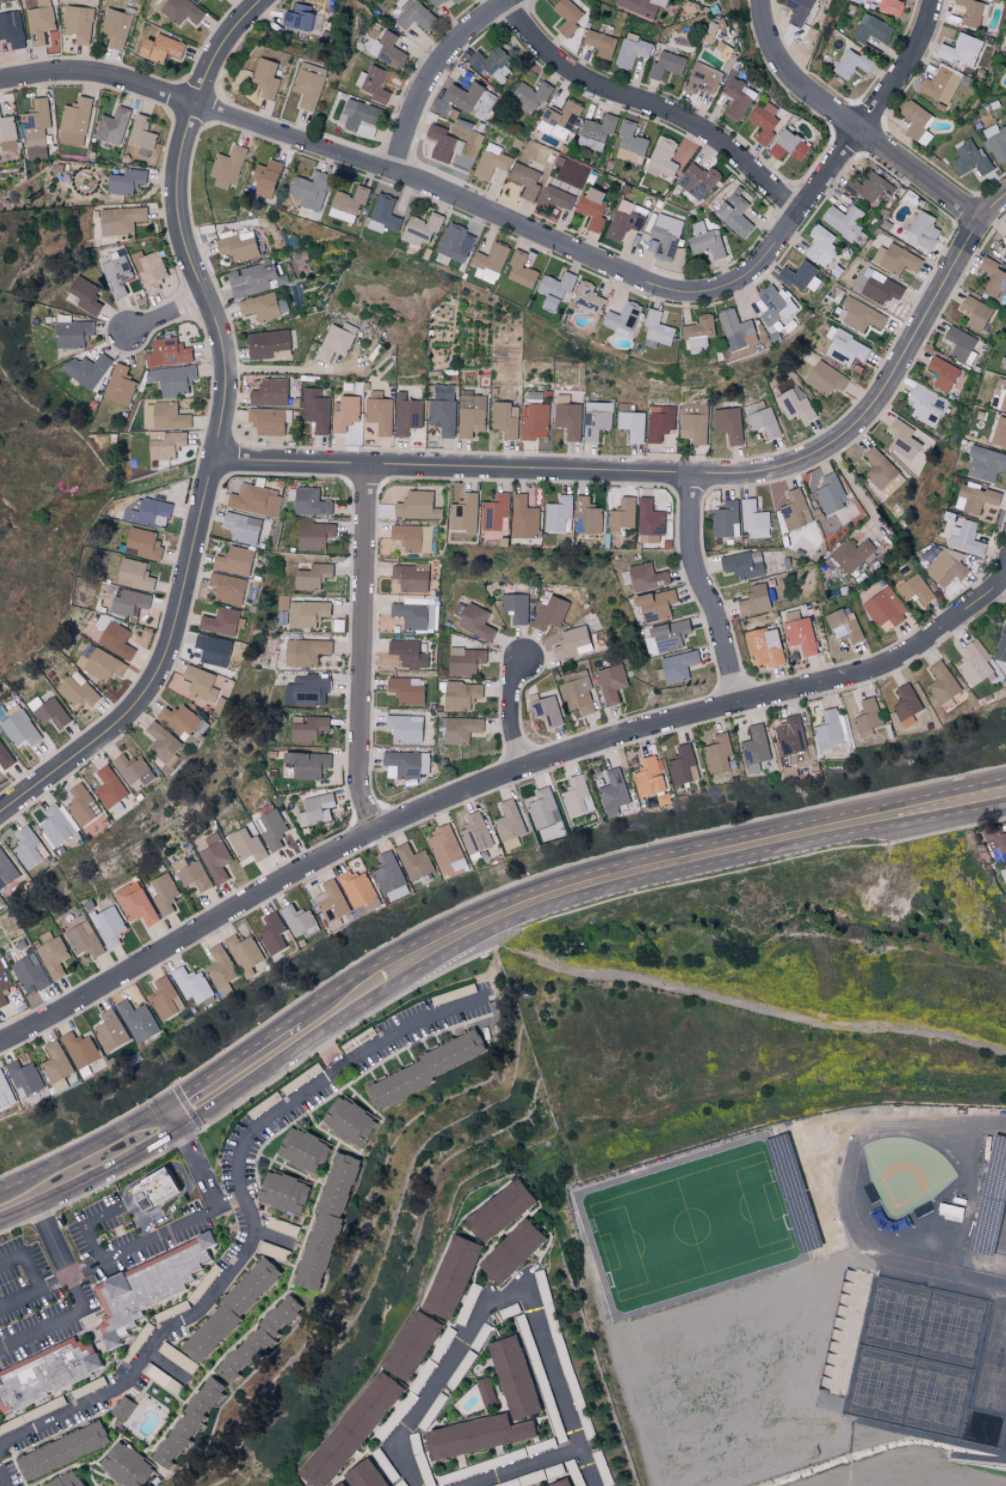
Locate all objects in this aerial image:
building: (455, 1)
building: (436, 2)
building: (641, 6)
building: (890, 7)
building: (181, 11)
building: (797, 11)
building: (972, 12)
building: (413, 15)
building: (567, 17)
building: (301, 19)
building: (40, 22)
building: (78, 23)
building: (114, 26)
building: (11, 29)
building: (871, 29)
building: (710, 31)
building: (601, 44)
building: (159, 49)
building: (387, 49)
building: (631, 50)
building: (961, 50)
building: (490, 64)
building: (850, 64)
building: (665, 65)
road: (901, 70)
road: (433, 73)
building: (265, 78)
building: (702, 79)
building: (373, 83)
building: (309, 85)
building: (940, 86)
building: (530, 95)
building: (462, 97)
building: (737, 99)
road: (648, 107)
building: (359, 114)
building: (558, 120)
building: (36, 122)
building: (74, 122)
building: (763, 122)
building: (917, 123)
building: (113, 126)
road: (849, 127)
building: (7, 128)
building: (596, 132)
building: (141, 135)
building: (996, 142)
building: (442, 143)
building: (630, 143)
building: (8, 145)
building: (787, 146)
building: (664, 157)
building: (971, 159)
building: (491, 161)
building: (227, 167)
building: (266, 178)
building: (125, 180)
building: (525, 181)
building: (697, 181)
building: (869, 187)
building: (311, 189)
building: (555, 198)
building: (348, 203)
road: (464, 204)
building: (591, 209)
building: (383, 214)
building: (733, 215)
building: (120, 220)
building: (623, 220)
building: (843, 220)
building: (1005, 224)
building: (420, 228)
building: (922, 231)
building: (663, 237)
building: (705, 241)
building: (454, 243)
building: (820, 245)
building: (1005, 246)
building: (237, 247)
building: (895, 258)
building: (489, 262)
building: (149, 269)
building: (519, 270)
building: (116, 274)
building: (800, 276)
building: (992, 277)
building: (251, 279)
building: (556, 284)
building: (879, 287)
building: (85, 294)
building: (587, 298)
building: (550, 302)
building: (261, 306)
building: (773, 306)
building: (974, 312)
road: (164, 314)
building: (859, 315)
building: (621, 318)
building: (657, 328)
building: (736, 329)
building: (699, 332)
building: (72, 333)
building: (335, 341)
building: (266, 343)
building: (961, 344)
building: (845, 347)
building: (167, 352)
building: (86, 369)
road: (278, 369)
building: (942, 372)
building: (1005, 372)
building: (825, 377)
building: (172, 380)
building: (269, 392)
building: (999, 397)
building: (796, 404)
building: (924, 404)
building: (315, 409)
building: (443, 409)
building: (379, 412)
building: (345, 413)
building: (406, 414)
building: (148, 415)
building: (471, 415)
building: (169, 416)
building: (568, 417)
building: (505, 419)
building: (596, 419)
building: (761, 419)
building: (267, 421)
building: (535, 421)
building: (660, 422)
building: (728, 423)
building: (632, 424)
building: (692, 425)
road: (226, 429)
building: (999, 433)
building: (902, 439)
building: (165, 446)
building: (985, 463)
building: (882, 472)
road: (679, 477)
road: (853, 484)
building: (830, 493)
building: (974, 497)
building: (255, 500)
building: (414, 504)
building: (795, 509)
building: (495, 512)
building: (148, 513)
building: (464, 513)
building: (557, 513)
building: (621, 515)
building: (754, 515)
building: (587, 516)
building: (524, 519)
building: (726, 519)
building: (649, 521)
building: (241, 527)
building: (314, 534)
building: (412, 537)
building: (965, 538)
building: (142, 543)
building: (851, 554)
building: (233, 560)
building: (743, 564)
building: (945, 569)
building: (133, 575)
building: (311, 575)
building: (410, 576)
building: (646, 577)
road: (1001, 586)
building: (227, 588)
building: (916, 589)
road: (708, 594)
building: (754, 599)
building: (128, 603)
building: (655, 604)
building: (515, 607)
building: (885, 608)
building: (306, 613)
building: (550, 613)
building: (414, 615)
building: (102, 621)
building: (221, 621)
building: (474, 621)
building: (843, 626)
building: (669, 635)
building: (800, 635)
building: (115, 640)
building: (572, 642)
building: (1001, 644)
building: (764, 647)
building: (212, 649)
road: (363, 650)
building: (305, 651)
building: (407, 653)
building: (464, 660)
building: (100, 664)
building: (972, 665)
building: (678, 666)
building: (200, 682)
building: (941, 682)
building: (611, 683)
building: (77, 690)
building: (307, 690)
building: (405, 690)
building: (576, 692)
building: (460, 695)
building: (905, 702)
building: (547, 710)
building: (51, 712)
road: (514, 716)
building: (868, 717)
building: (179, 720)
building: (404, 727)
building: (20, 728)
building: (307, 728)
building: (459, 729)
building: (829, 729)
building: (161, 741)
building: (794, 741)
building: (754, 749)
building: (717, 753)
building: (4, 757)
building: (306, 764)
building: (405, 764)
building: (683, 765)
building: (132, 769)
building: (649, 777)
road: (497, 782)
building: (109, 787)
building: (613, 793)
building: (577, 797)
building: (82, 805)
building: (542, 808)
building: (314, 810)
building: (56, 825)
building: (509, 825)
building: (272, 828)
building: (475, 833)
building: (996, 842)
building: (246, 845)
building: (29, 847)
building: (445, 849)
building: (215, 858)
road: (636, 858)
building: (413, 861)
building: (1004, 867)
building: (6, 870)
building: (388, 872)
building: (191, 874)
building: (356, 888)
building: (396, 892)
building: (164, 893)
building: (331, 900)
road: (568, 900)
building: (135, 903)
building: (297, 919)
building: (108, 926)
building: (272, 933)
building: (83, 939)
building: (243, 953)
building: (53, 957)
building: (219, 967)
building: (29, 973)
building: (3, 984)
building: (191, 984)
building: (165, 998)
road: (742, 1001)
building: (137, 1021)
building: (110, 1030)
building: (79, 1049)
building: (55, 1062)
road: (234, 1064)
building: (424, 1068)
building: (24, 1078)
building: (59, 1085)
building: (5, 1093)
traffic signals: (171, 1108)
road: (177, 1117)
building: (346, 1121)
traffic signals: (183, 1127)
building: (300, 1149)
road: (87, 1154)
building: (957, 1154)
road: (202, 1168)
road: (93, 1176)
building: (153, 1188)
building: (871, 1190)
building: (281, 1192)
building: (969, 1209)
building: (497, 1210)
road: (108, 1212)
road: (249, 1216)
building: (324, 1223)
building: (842, 1229)
road: (60, 1239)
road: (145, 1242)
road: (47, 1244)
building: (509, 1252)
building: (959, 1254)
road: (26, 1261)
building: (450, 1277)
building: (149, 1286)
road: (35, 1295)
road: (504, 1298)
building: (229, 1310)
road: (58, 1322)
building: (257, 1338)
building: (409, 1346)
building: (45, 1374)
building: (512, 1377)
building: (485, 1390)
building: (122, 1409)
building: (186, 1423)
building: (348, 1431)
building: (474, 1436)
building: (65, 1450)
building: (124, 1466)
road: (523, 1466)
building: (364, 1474)
road: (2, 1480)
building: (68, 1480)
building: (560, 1483)
building: (338, 1484)

